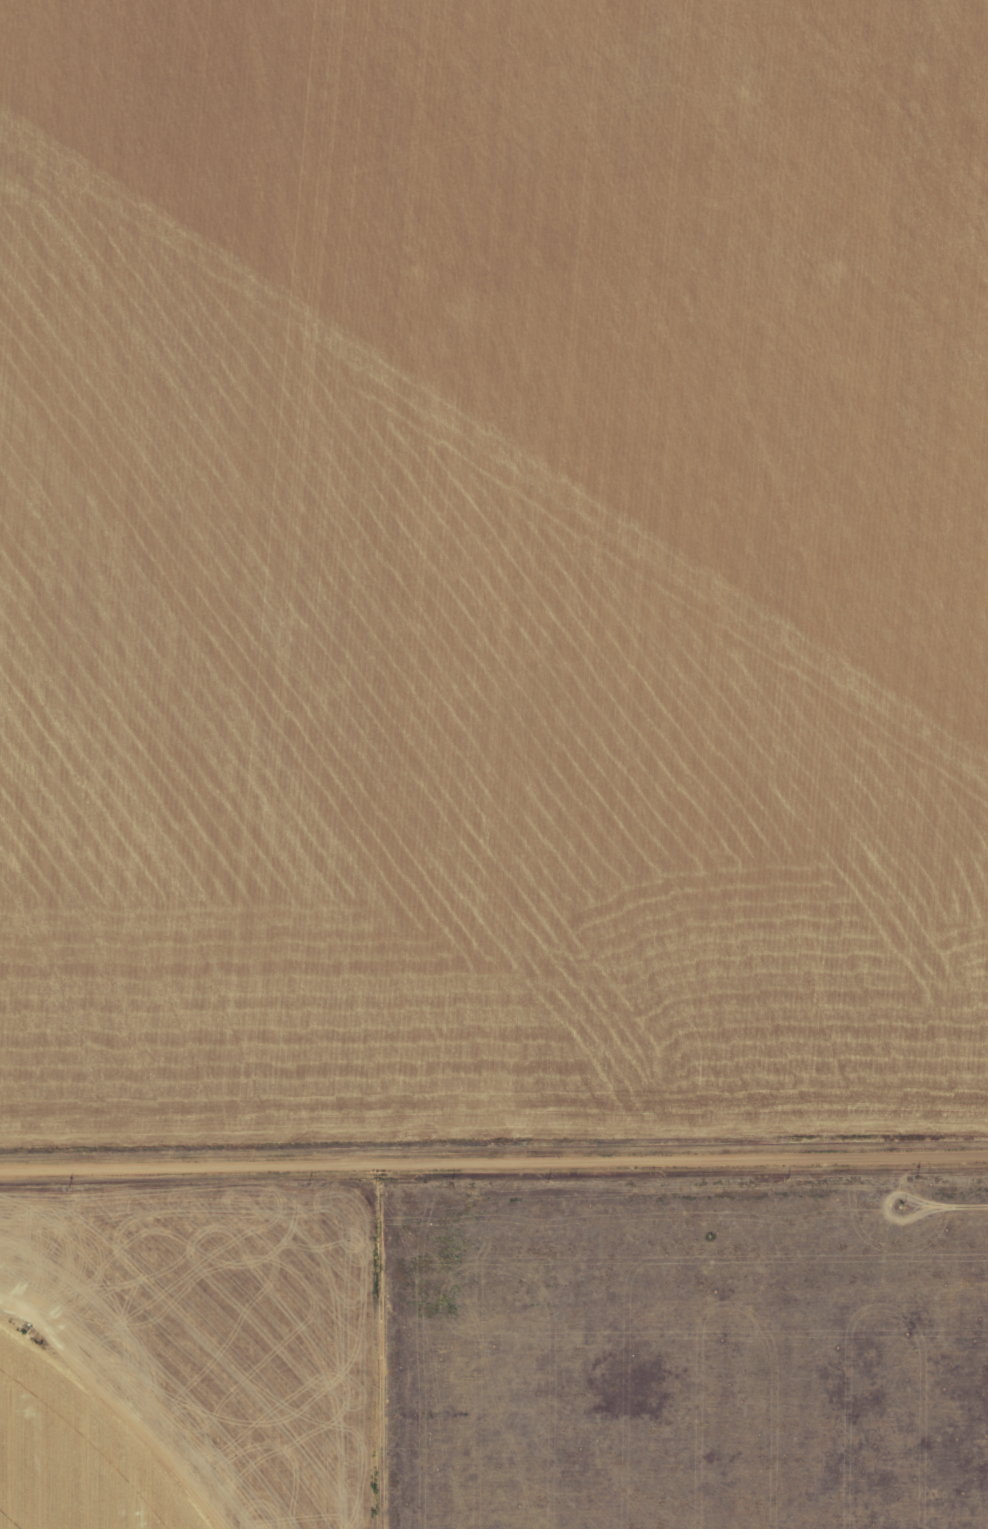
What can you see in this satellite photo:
road: (494, 1163)

